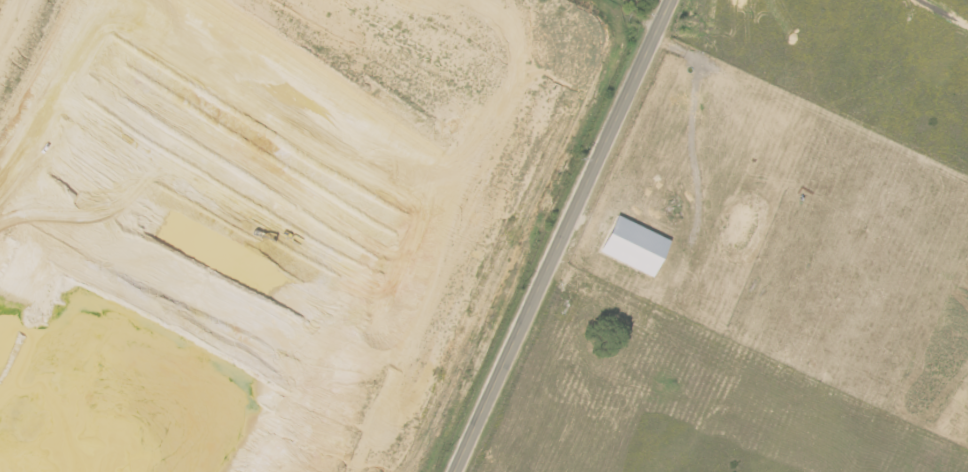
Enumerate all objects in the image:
road: (650, 6)
road: (564, 235)

